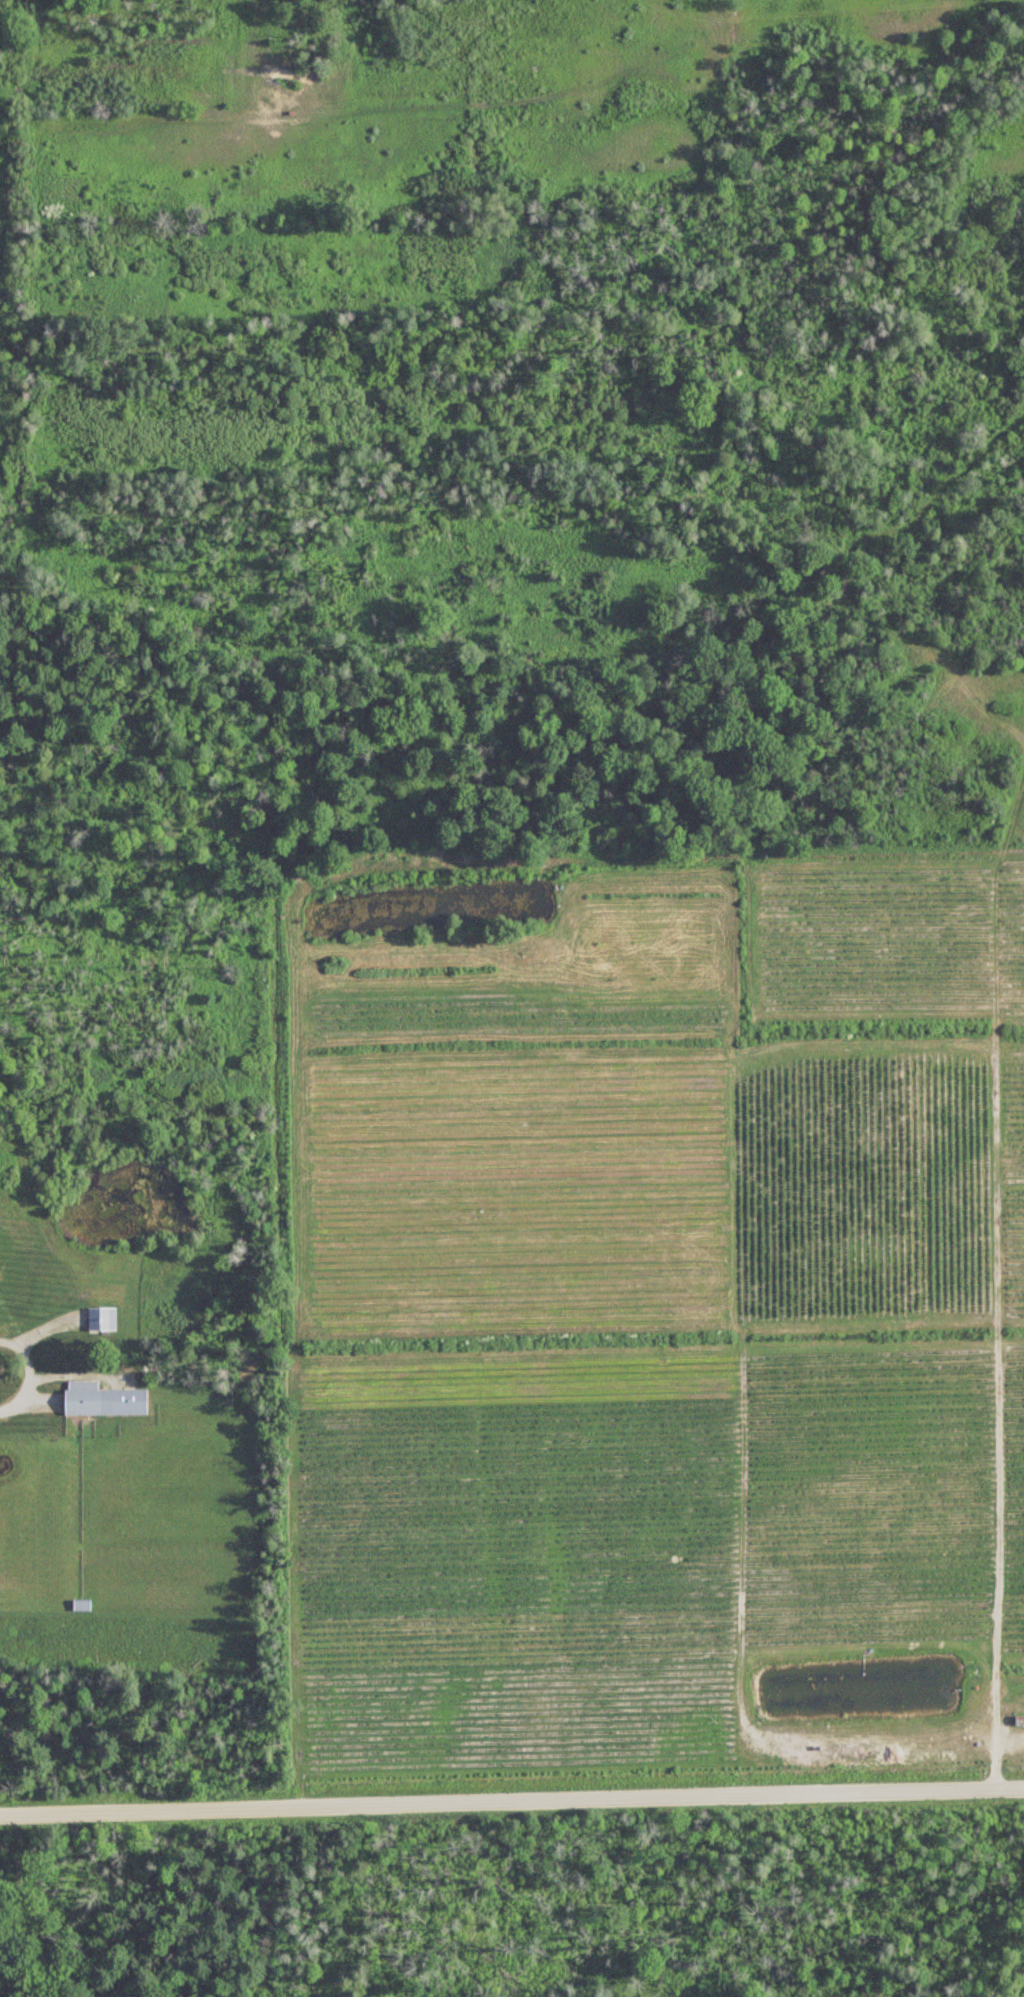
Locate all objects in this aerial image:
building: (103, 1320)
road: (29, 1373)
building: (104, 1400)
building: (82, 1606)
building: (1020, 1721)
road: (996, 1733)
road: (511, 1802)

